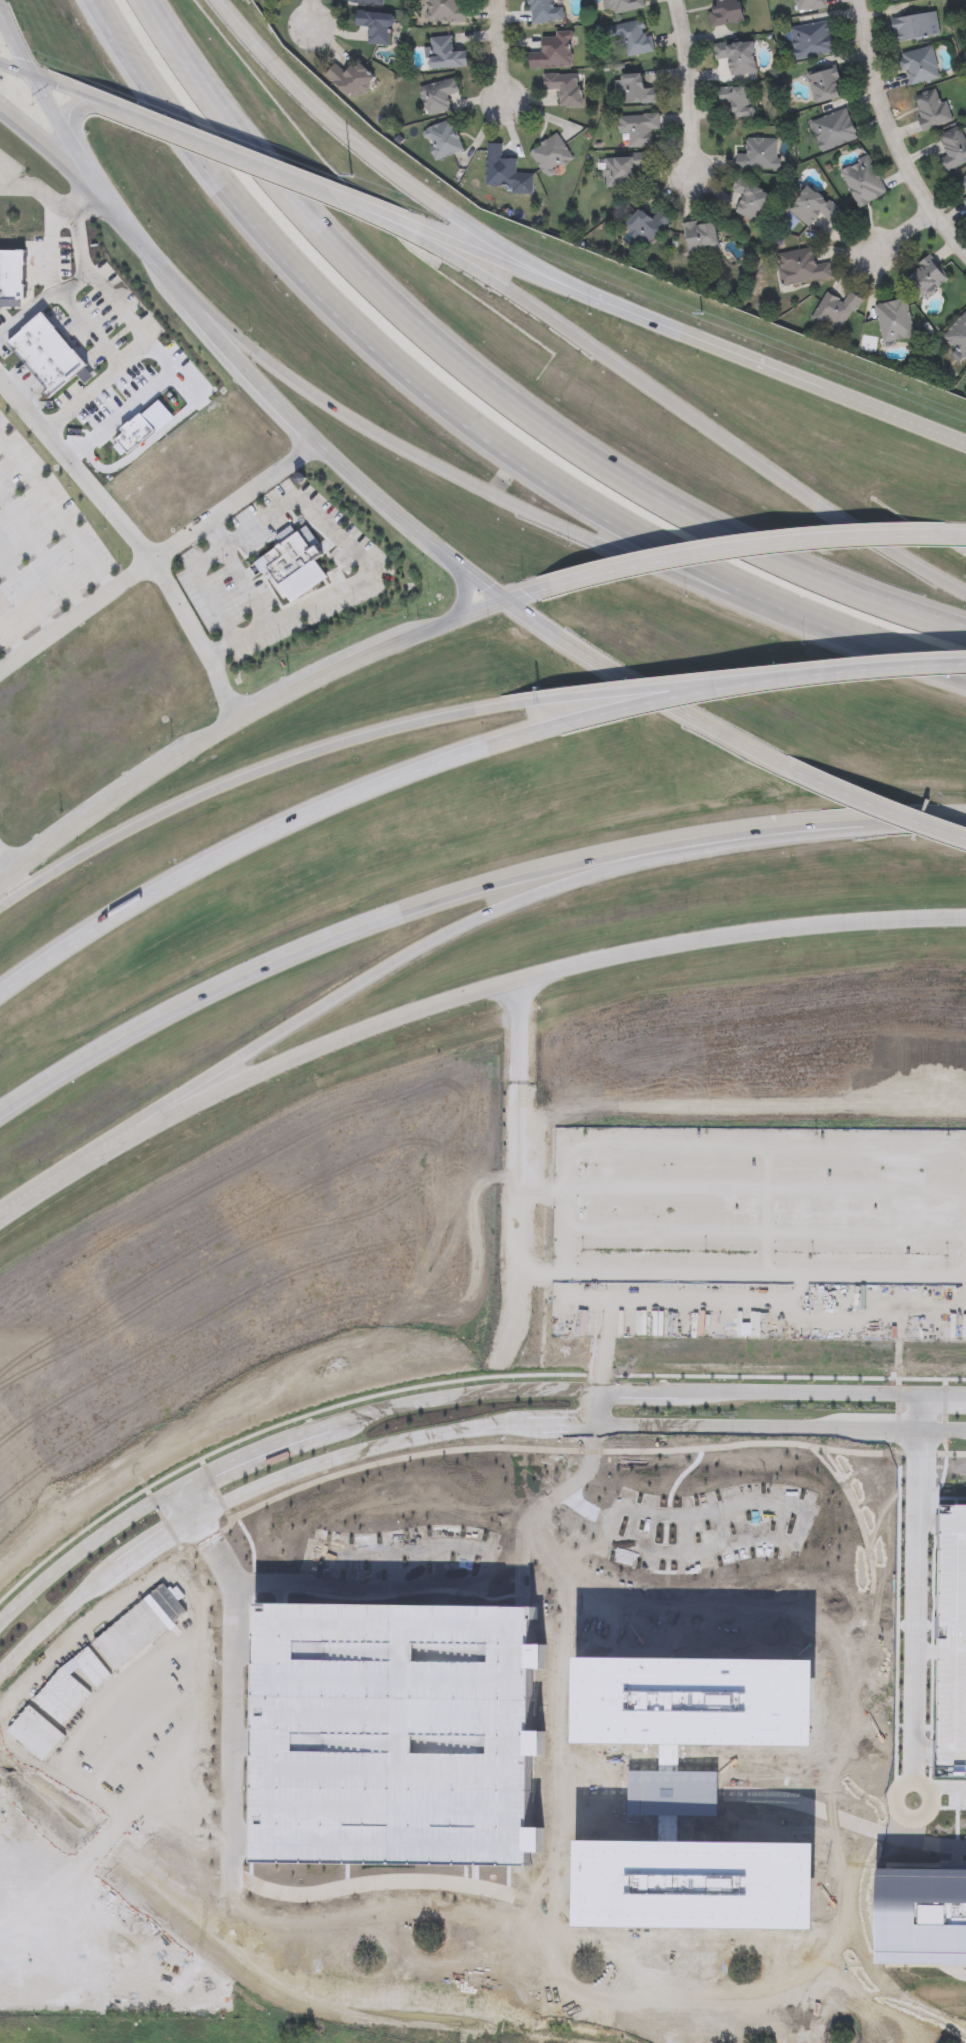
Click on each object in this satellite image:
road: (312, 14)
building: (375, 26)
building: (631, 36)
building: (810, 40)
road: (18, 49)
road: (499, 51)
building: (553, 51)
building: (445, 53)
building: (736, 56)
building: (349, 78)
traffic signals: (36, 82)
building: (824, 84)
road: (46, 86)
building: (565, 87)
building: (634, 88)
road: (689, 88)
building: (438, 95)
building: (737, 100)
road: (111, 110)
road: (72, 117)
building: (637, 127)
building: (832, 130)
road: (892, 135)
building: (441, 139)
road: (73, 148)
building: (759, 154)
building: (550, 155)
road: (59, 159)
building: (499, 168)
building: (621, 169)
road: (264, 170)
road: (390, 175)
building: (862, 181)
road: (39, 198)
building: (750, 199)
building: (814, 207)
building: (646, 225)
road: (904, 232)
building: (700, 235)
road: (49, 251)
road: (149, 253)
building: (800, 266)
building: (12, 274)
building: (925, 277)
road: (42, 303)
building: (835, 308)
building: (894, 320)
road: (138, 323)
road: (89, 332)
road: (682, 334)
building: (957, 337)
building: (48, 361)
road: (500, 387)
road: (681, 411)
road: (134, 412)
road: (463, 421)
road: (173, 434)
road: (506, 500)
road: (303, 503)
road: (57, 519)
road: (955, 538)
road: (134, 544)
road: (745, 548)
parking lot: (41, 549)
road: (42, 558)
road: (158, 562)
road: (461, 569)
building: (294, 572)
road: (463, 595)
road: (28, 597)
road: (256, 605)
road: (14, 637)
road: (843, 676)
road: (615, 701)
road: (258, 711)
road: (638, 711)
road: (242, 784)
road: (880, 808)
road: (264, 841)
road: (9, 867)
road: (460, 895)
road: (914, 923)
road: (399, 966)
road: (466, 1000)
road: (47, 1191)
road: (106, 1347)
road: (453, 1381)
road: (898, 1391)
road: (782, 1395)
road: (599, 1408)
road: (944, 1408)
road: (782, 1427)
road: (273, 1446)
road: (562, 1450)
road: (823, 1462)
road: (831, 1463)
road: (860, 1470)
road: (873, 1478)
road: (271, 1487)
road: (215, 1490)
road: (876, 1497)
road: (951, 1499)
road: (197, 1504)
road: (955, 1504)
road: (550, 1509)
road: (560, 1520)
road: (879, 1521)
road: (163, 1522)
road: (930, 1527)
parking lot: (707, 1531)
road: (788, 1545)
road: (665, 1550)
road: (253, 1555)
parking lot: (399, 1568)
road: (871, 1570)
road: (482, 1582)
road: (917, 1596)
road: (281, 1598)
road: (932, 1609)
road: (898, 1623)
road: (915, 1627)
road: (869, 1639)
road: (251, 1649)
building: (952, 1649)
parking garage: (952, 1649)
road: (699, 1652)
road: (801, 1652)
road: (741, 1653)
road: (927, 1653)
road: (874, 1689)
building: (686, 1699)
road: (913, 1728)
road: (251, 1736)
building: (402, 1740)
parking garage: (402, 1740)
road: (250, 1745)
road: (888, 1745)
road: (871, 1752)
road: (925, 1753)
road: (880, 1759)
road: (848, 1770)
road: (869, 1772)
road: (939, 1789)
road: (870, 1790)
building: (673, 1791)
road: (615, 1793)
road: (626, 1794)
road: (911, 1819)
road: (845, 1822)
road: (957, 1836)
road: (248, 1845)
road: (835, 1861)
road: (900, 1867)
road: (961, 1875)
building: (687, 1878)
road: (348, 1879)
road: (402, 1884)
road: (559, 1895)
building: (923, 1920)
road: (859, 1925)
road: (796, 1955)
road: (735, 1999)

